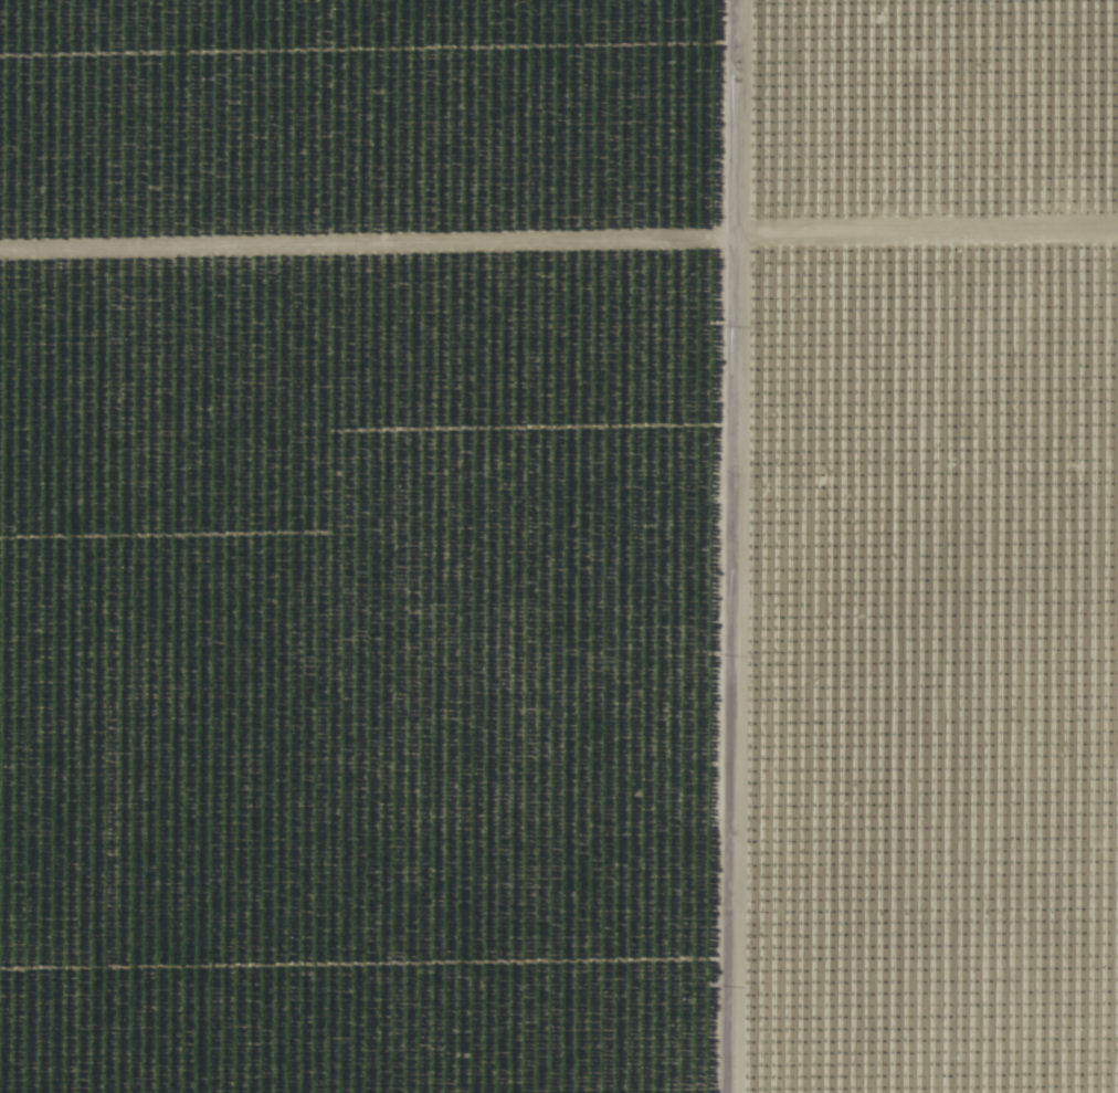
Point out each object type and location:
road: (737, 546)

